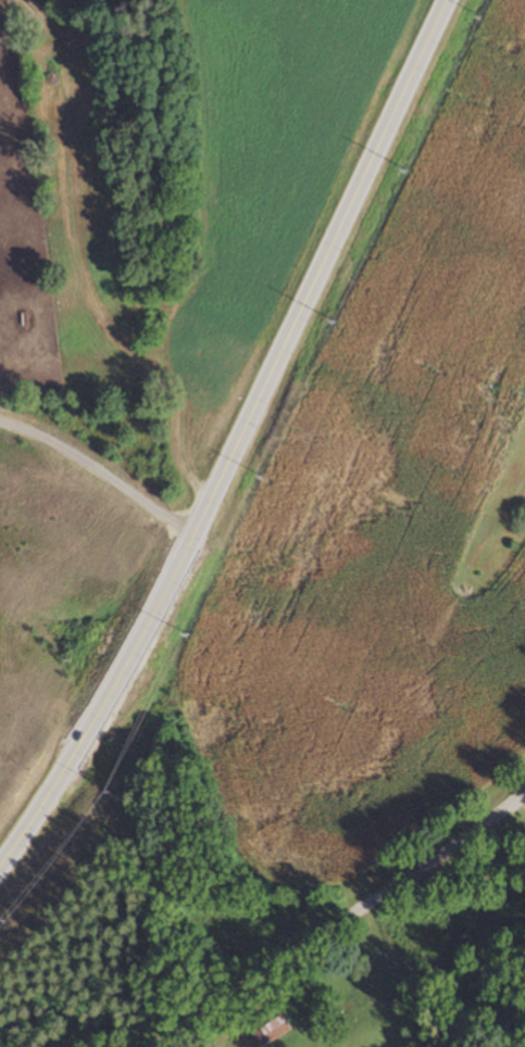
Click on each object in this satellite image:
road: (237, 440)
road: (98, 469)
road: (337, 920)
building: (268, 1027)

